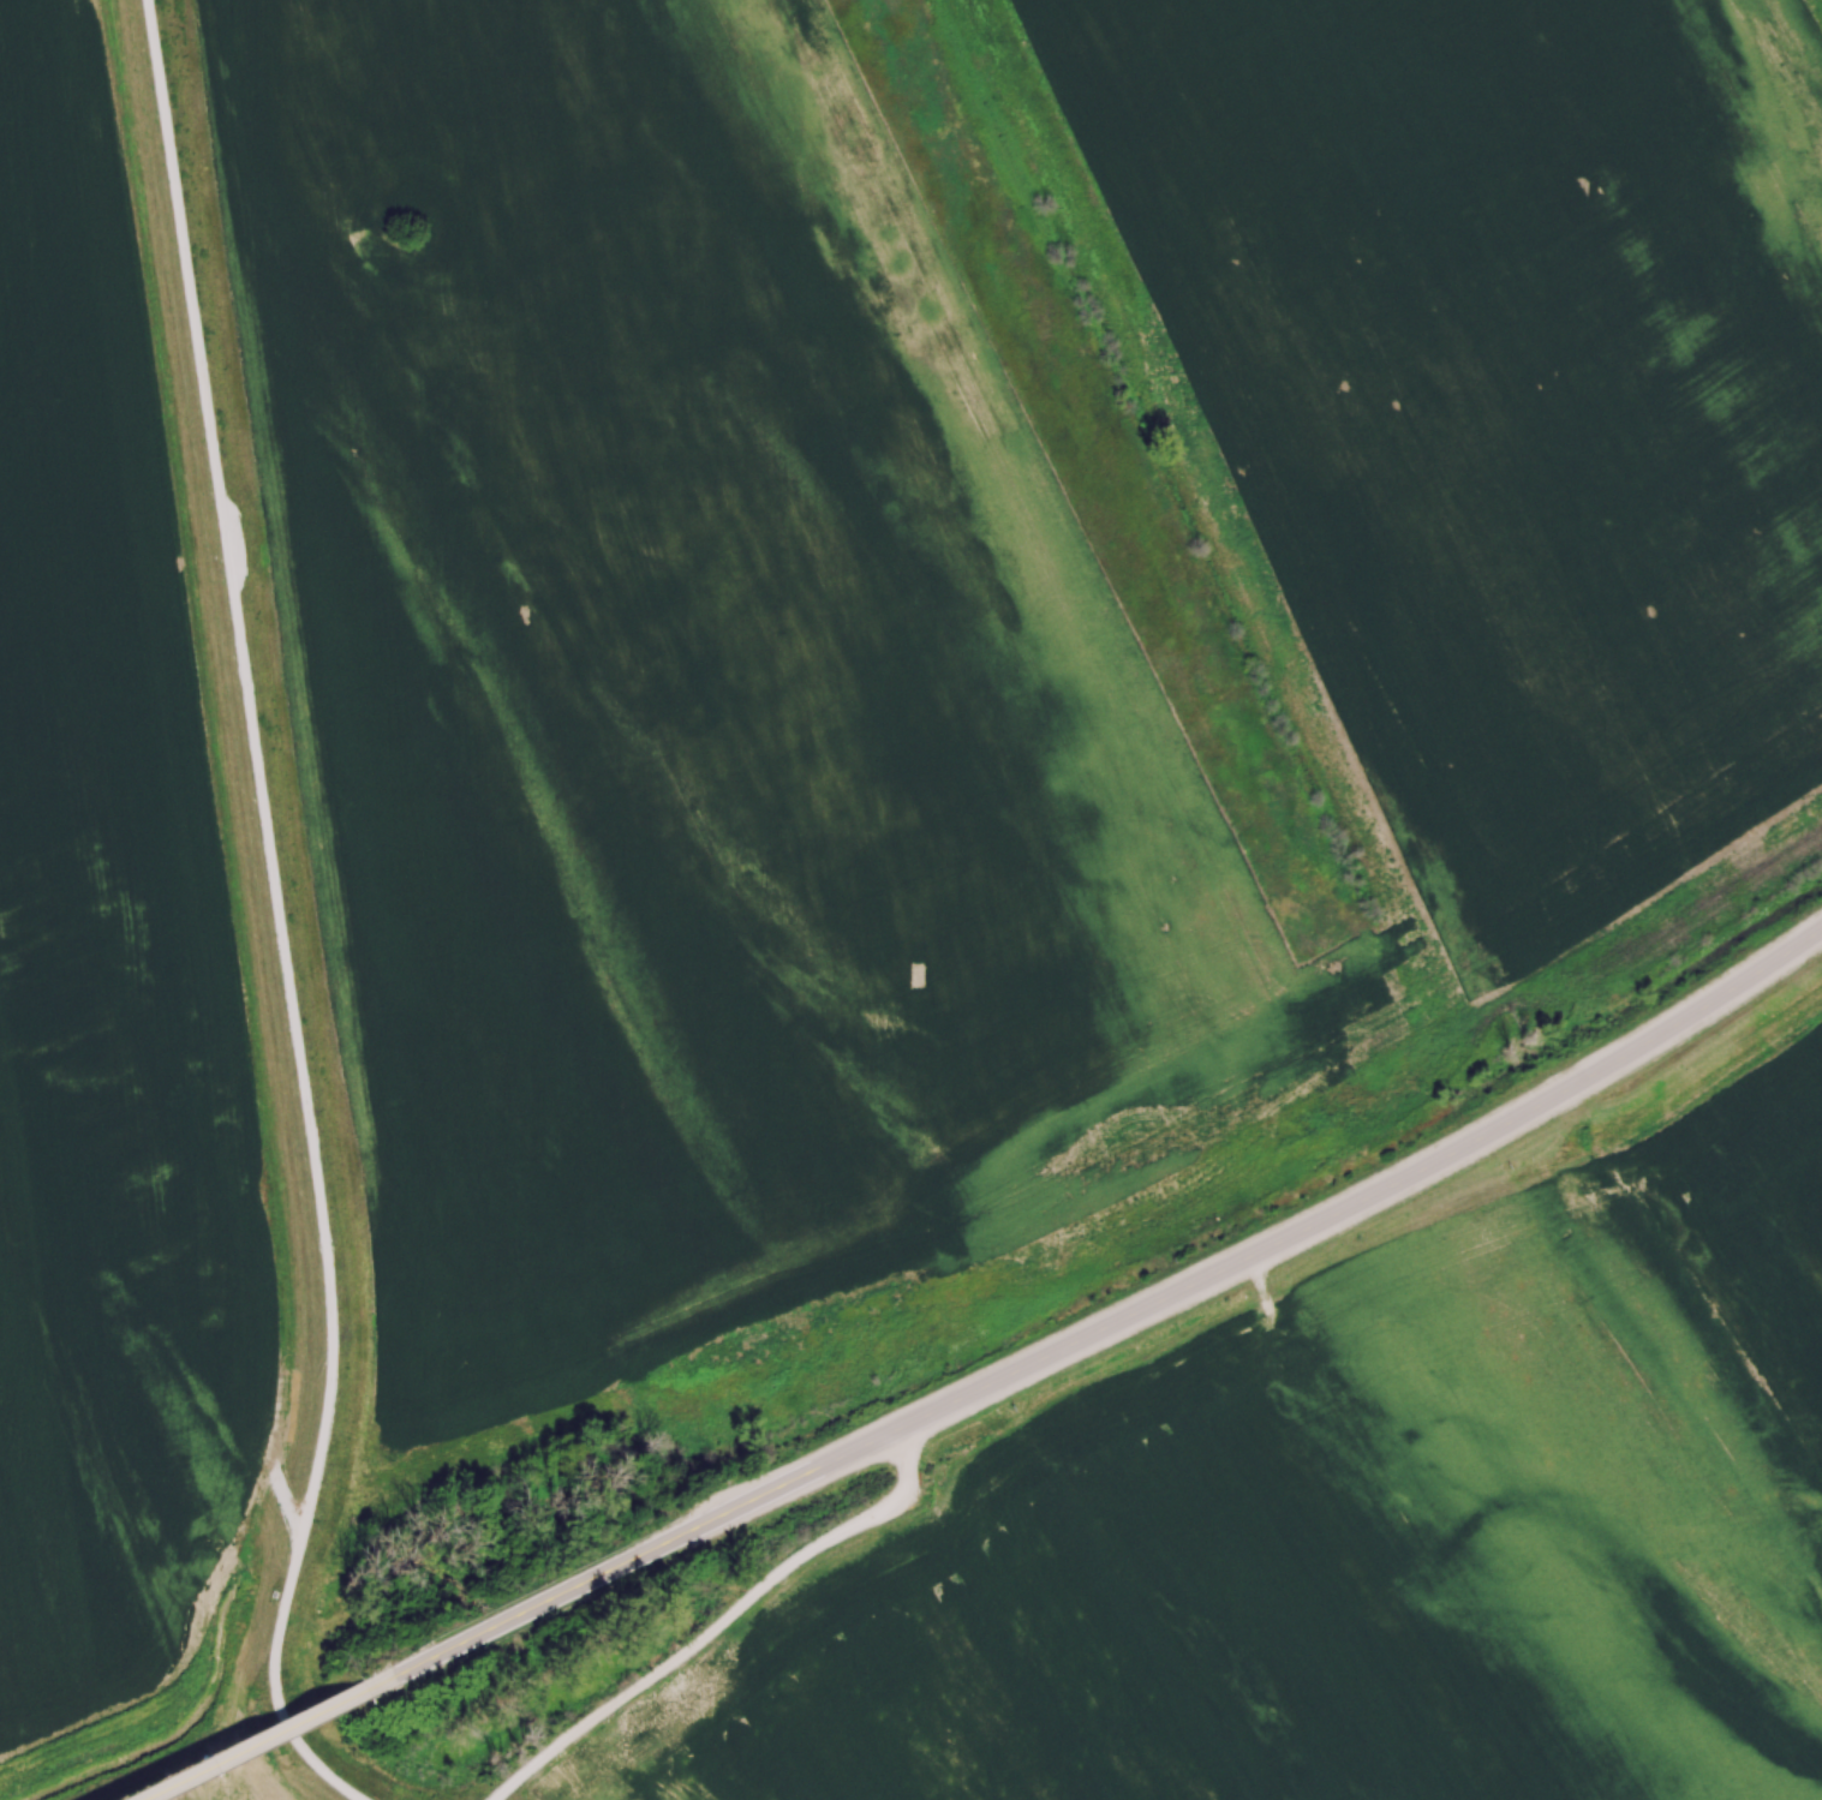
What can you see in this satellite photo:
crop: (1505, 397)
crop: (699, 687)
road: (274, 914)
crop: (108, 949)
road: (1367, 1197)
road: (629, 1557)
road: (715, 1621)
road: (251, 1742)

